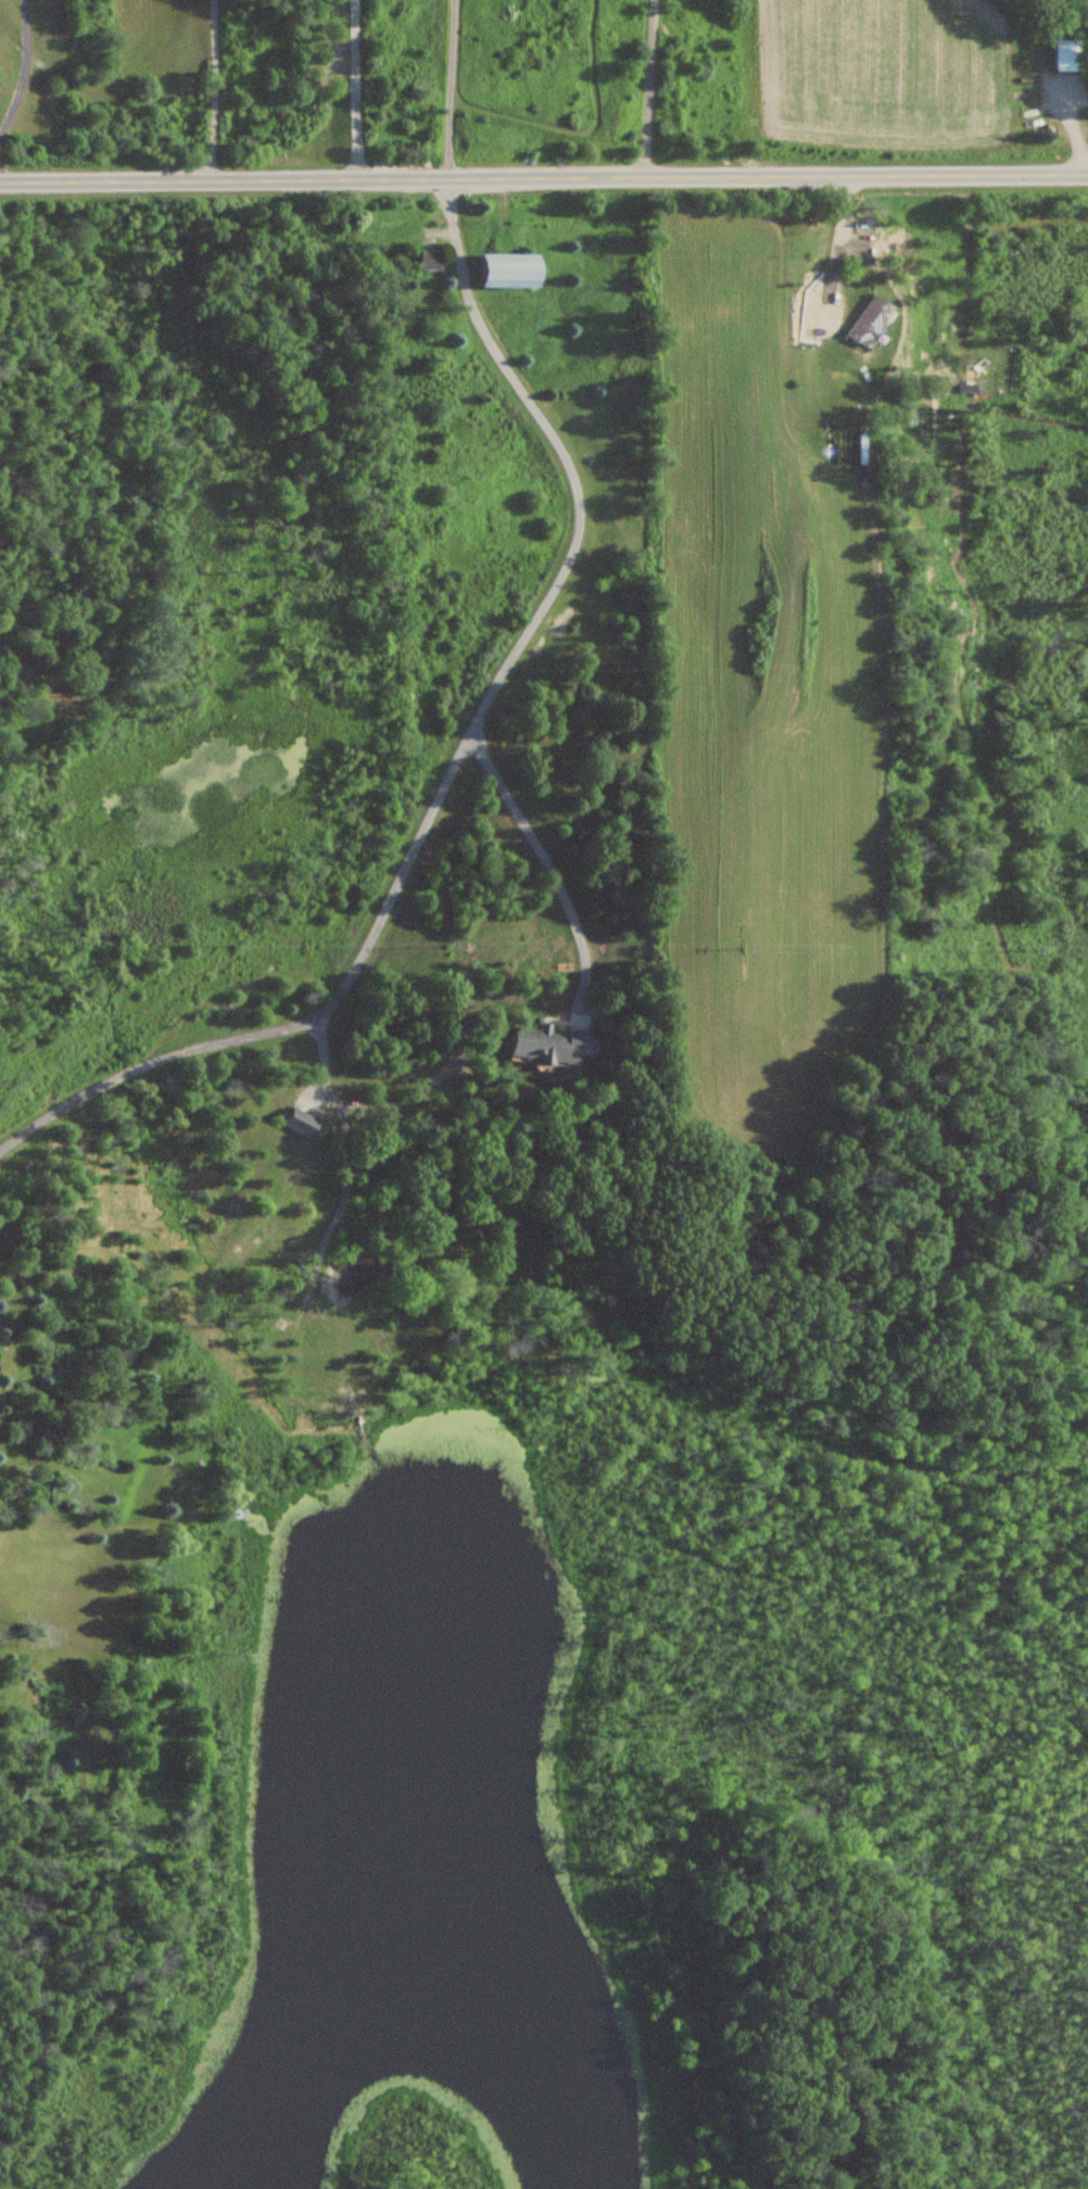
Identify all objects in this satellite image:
building: (1070, 56)
road: (22, 65)
road: (650, 89)
road: (450, 90)
road: (208, 91)
road: (354, 91)
road: (543, 180)
road: (839, 242)
building: (429, 262)
building: (508, 271)
building: (872, 322)
road: (455, 759)
road: (541, 859)
building: (551, 1045)
building: (300, 1123)

